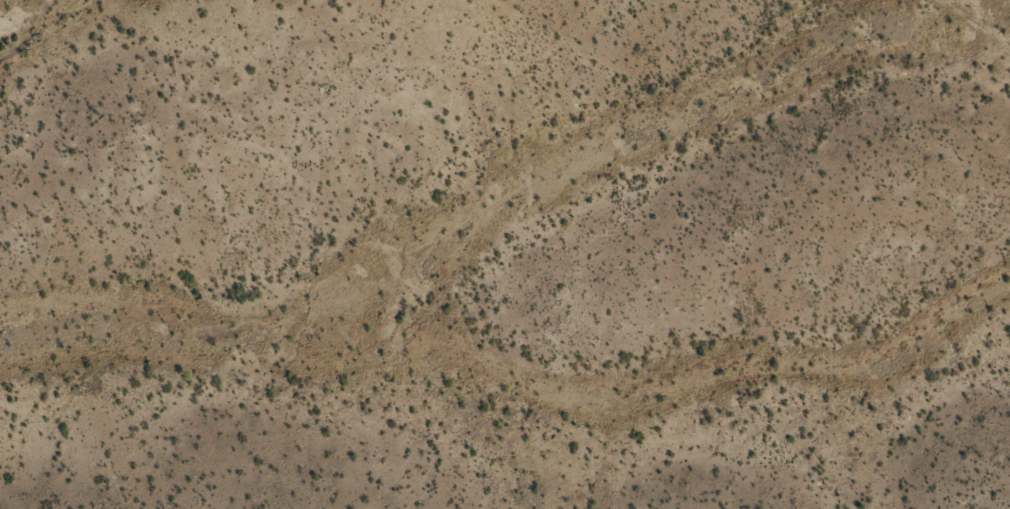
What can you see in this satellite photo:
road: (995, 8)

